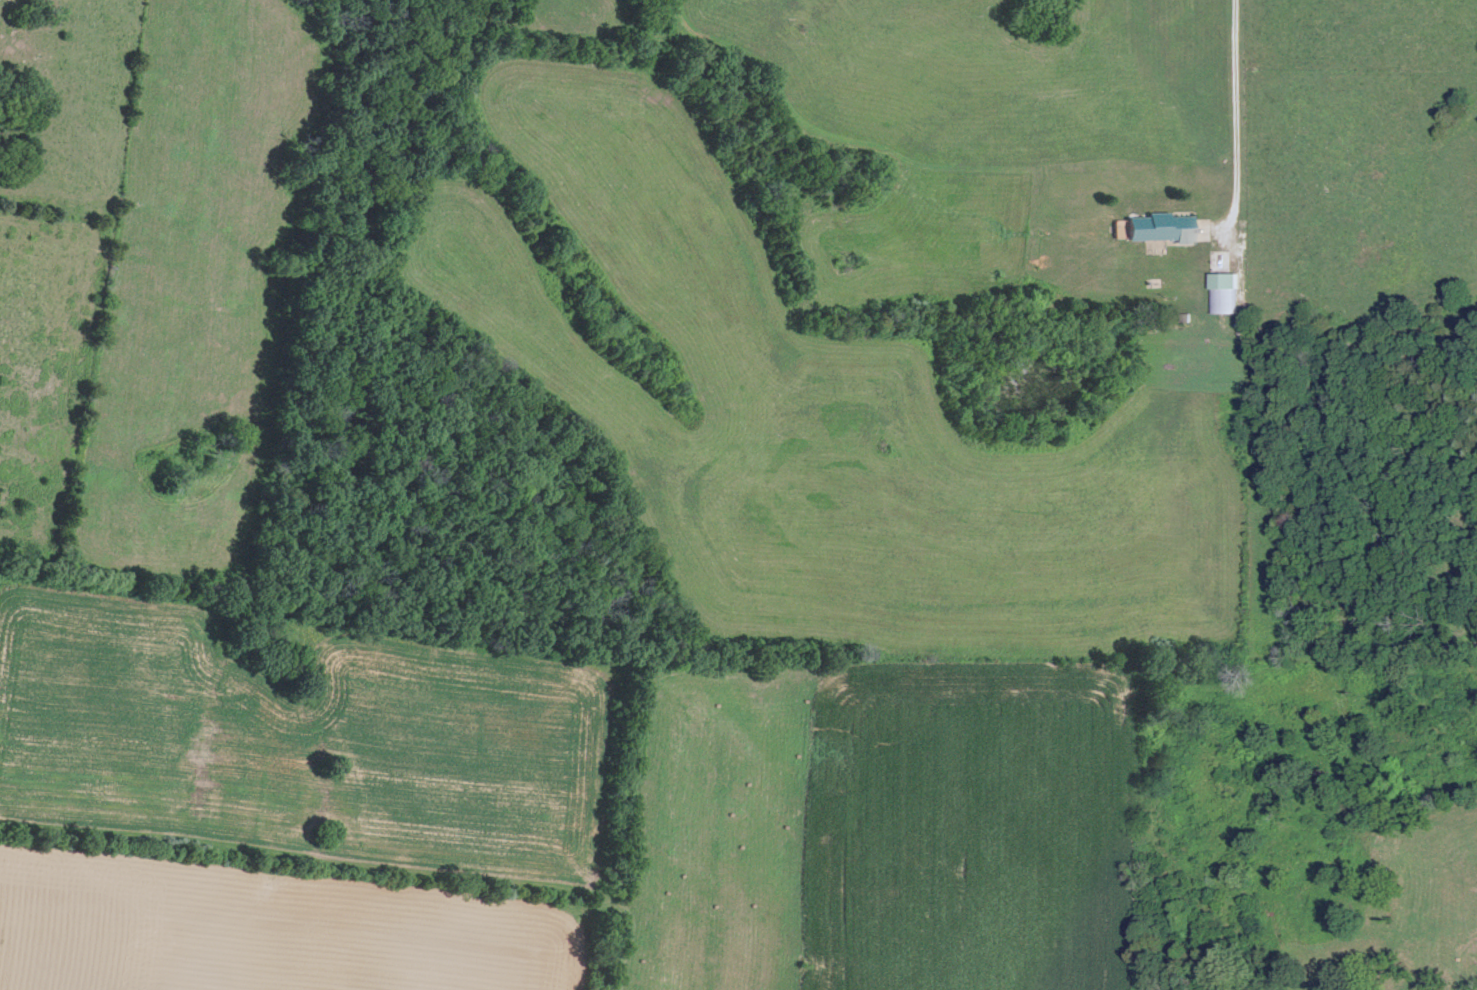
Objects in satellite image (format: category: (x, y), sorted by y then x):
road: (1235, 120)
building: (1158, 226)
building: (1223, 292)

